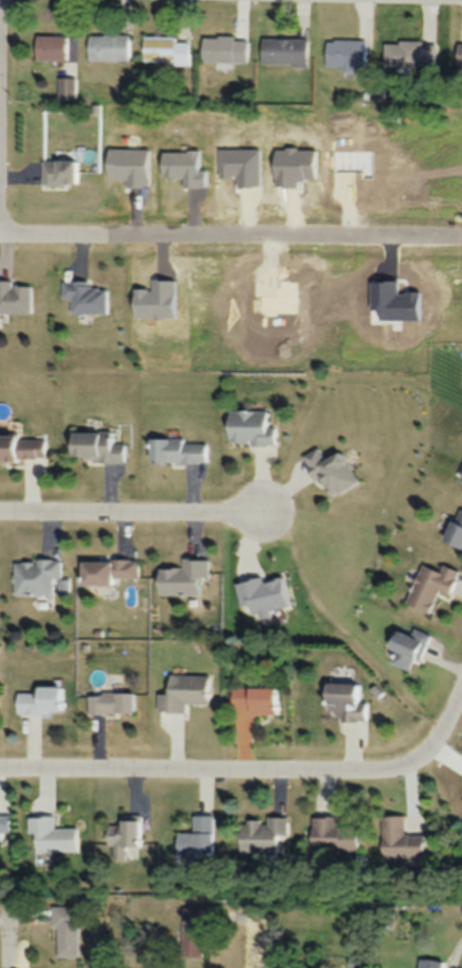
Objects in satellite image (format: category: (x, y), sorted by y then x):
road: (364, 1)
building: (50, 47)
building: (109, 47)
building: (166, 49)
building: (225, 49)
building: (285, 51)
building: (346, 53)
building: (410, 53)
building: (459, 54)
building: (67, 87)
building: (58, 171)
road: (231, 210)
building: (15, 297)
building: (85, 297)
building: (250, 427)
building: (95, 446)
building: (23, 447)
building: (177, 450)
building: (329, 471)
building: (460, 477)
road: (133, 514)
building: (454, 530)
building: (107, 571)
building: (36, 576)
building: (430, 586)
building: (407, 647)
building: (183, 692)
building: (254, 699)
building: (41, 700)
building: (344, 702)
building: (110, 703)
road: (252, 773)
building: (4, 824)
building: (261, 832)
building: (333, 833)
building: (52, 834)
building: (197, 836)
building: (124, 837)
building: (399, 838)
building: (66, 930)
building: (193, 931)
road: (11, 937)
road: (255, 943)
building: (428, 963)
building: (307, 965)

